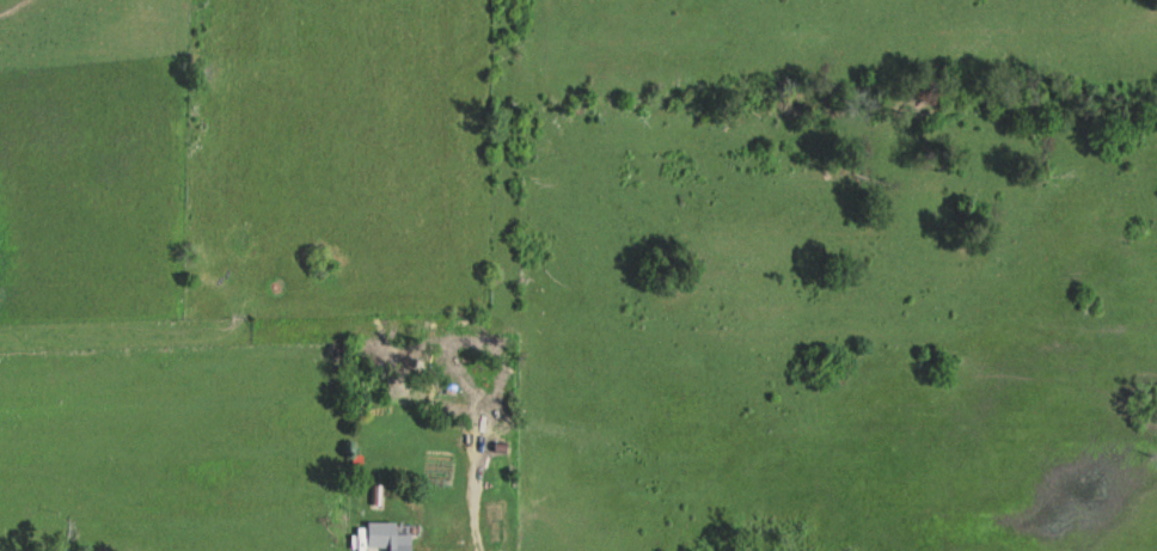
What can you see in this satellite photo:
building: (378, 494)
building: (390, 535)

